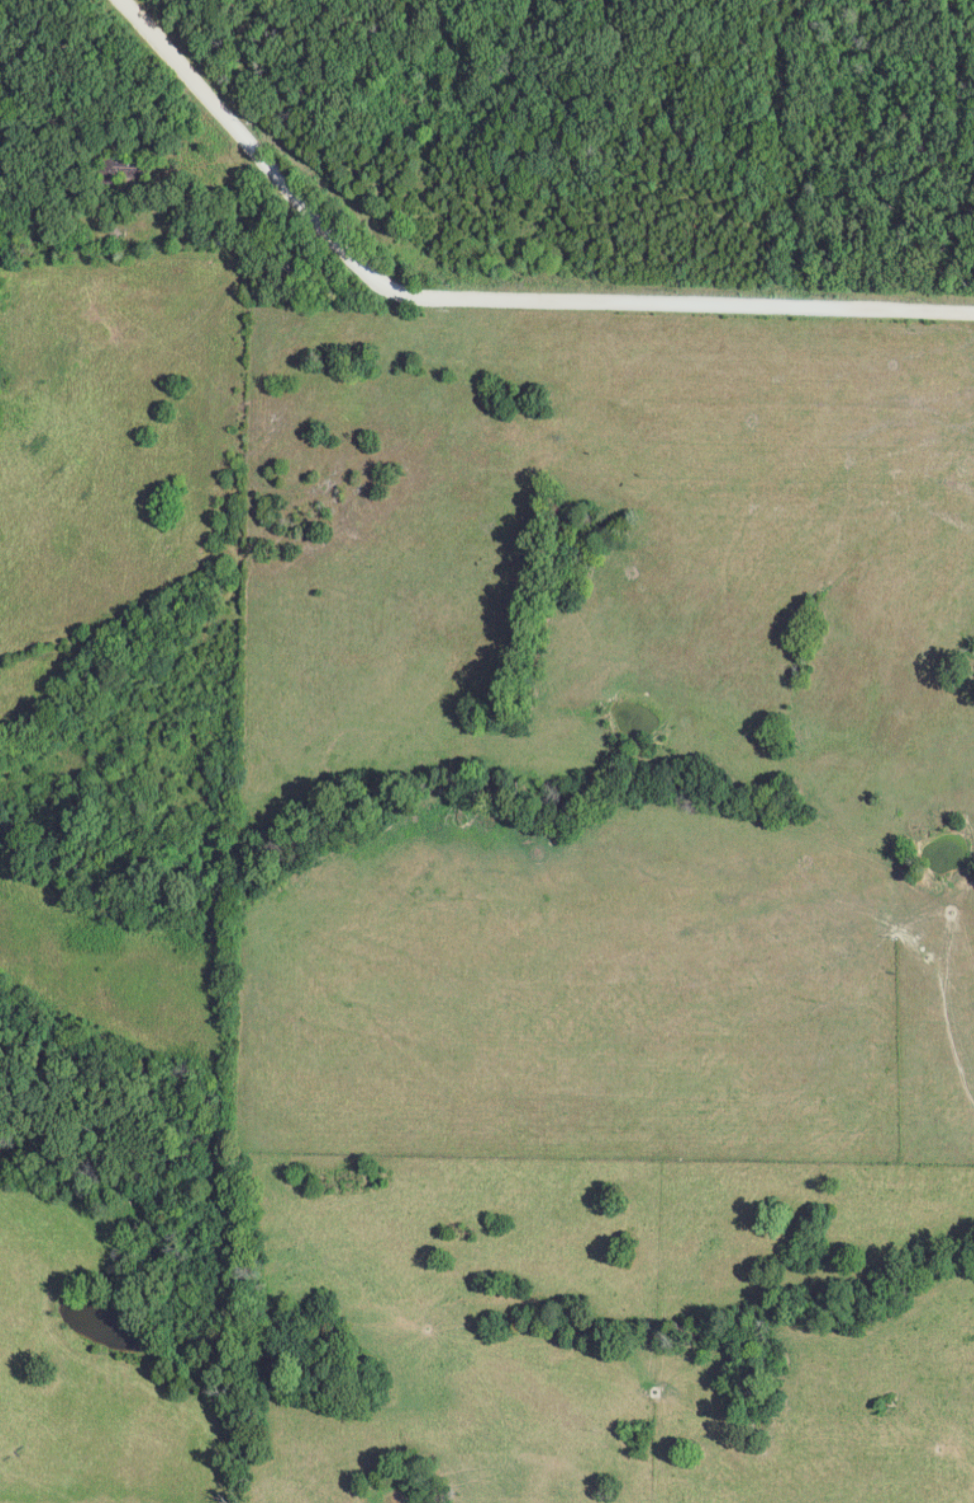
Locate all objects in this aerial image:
road: (484, 301)

